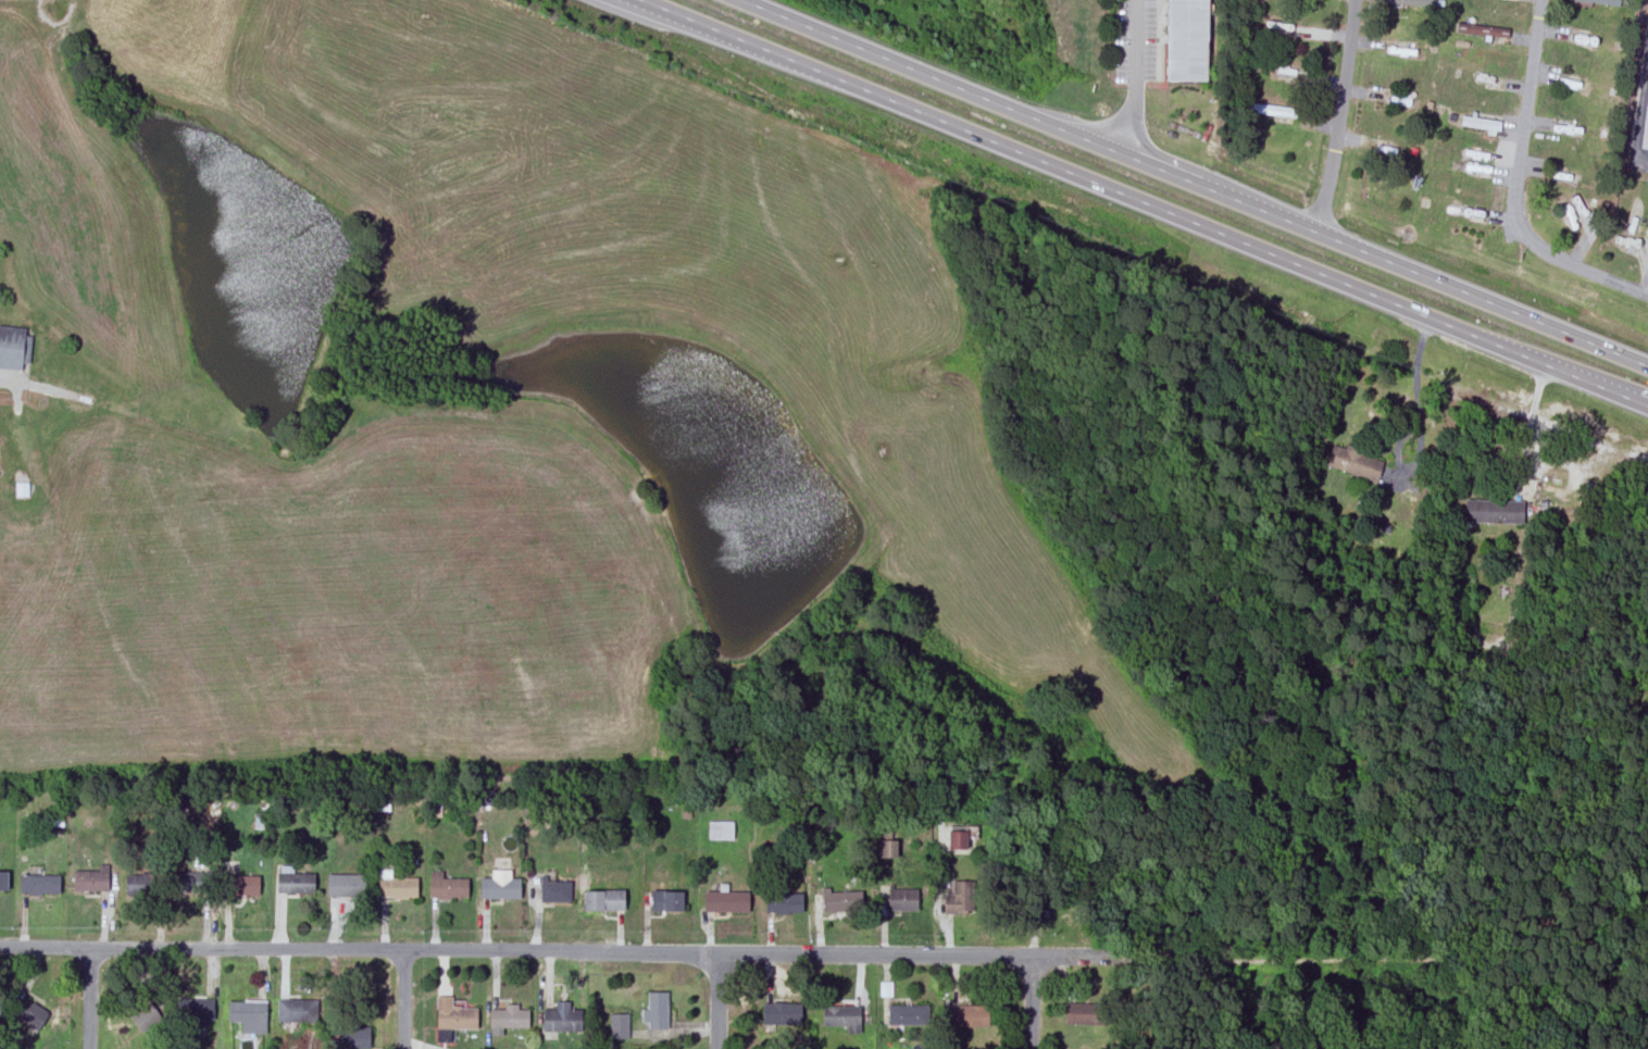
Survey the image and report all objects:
building: (1413, 1)
building: (1600, 1)
building: (1483, 29)
building: (1185, 40)
road: (1135, 78)
road: (1340, 117)
building: (1644, 120)
road: (1193, 183)
road: (1516, 188)
road: (1140, 204)
building: (14, 347)
road: (1415, 422)
road: (1528, 426)
building: (1352, 461)
building: (1493, 511)
building: (719, 831)
building: (956, 840)
building: (886, 849)
building: (92, 878)
building: (4, 879)
building: (191, 882)
building: (294, 883)
building: (38, 884)
building: (137, 885)
building: (244, 885)
building: (342, 885)
building: (396, 885)
building: (446, 887)
building: (498, 888)
building: (554, 891)
building: (958, 899)
building: (602, 900)
building: (901, 900)
building: (665, 901)
building: (724, 901)
building: (840, 901)
building: (785, 903)
road: (551, 951)
road: (89, 999)
road: (401, 999)
road: (716, 1001)
road: (1027, 1002)
building: (656, 1010)
building: (0, 1011)
building: (196, 1011)
building: (294, 1012)
building: (247, 1014)
building: (779, 1014)
building: (1084, 1014)
building: (906, 1015)
building: (839, 1016)
building: (969, 1016)
building: (30, 1017)
building: (143, 1017)
building: (508, 1017)
building: (453, 1019)
building: (560, 1019)
building: (617, 1026)
building: (354, 1038)

